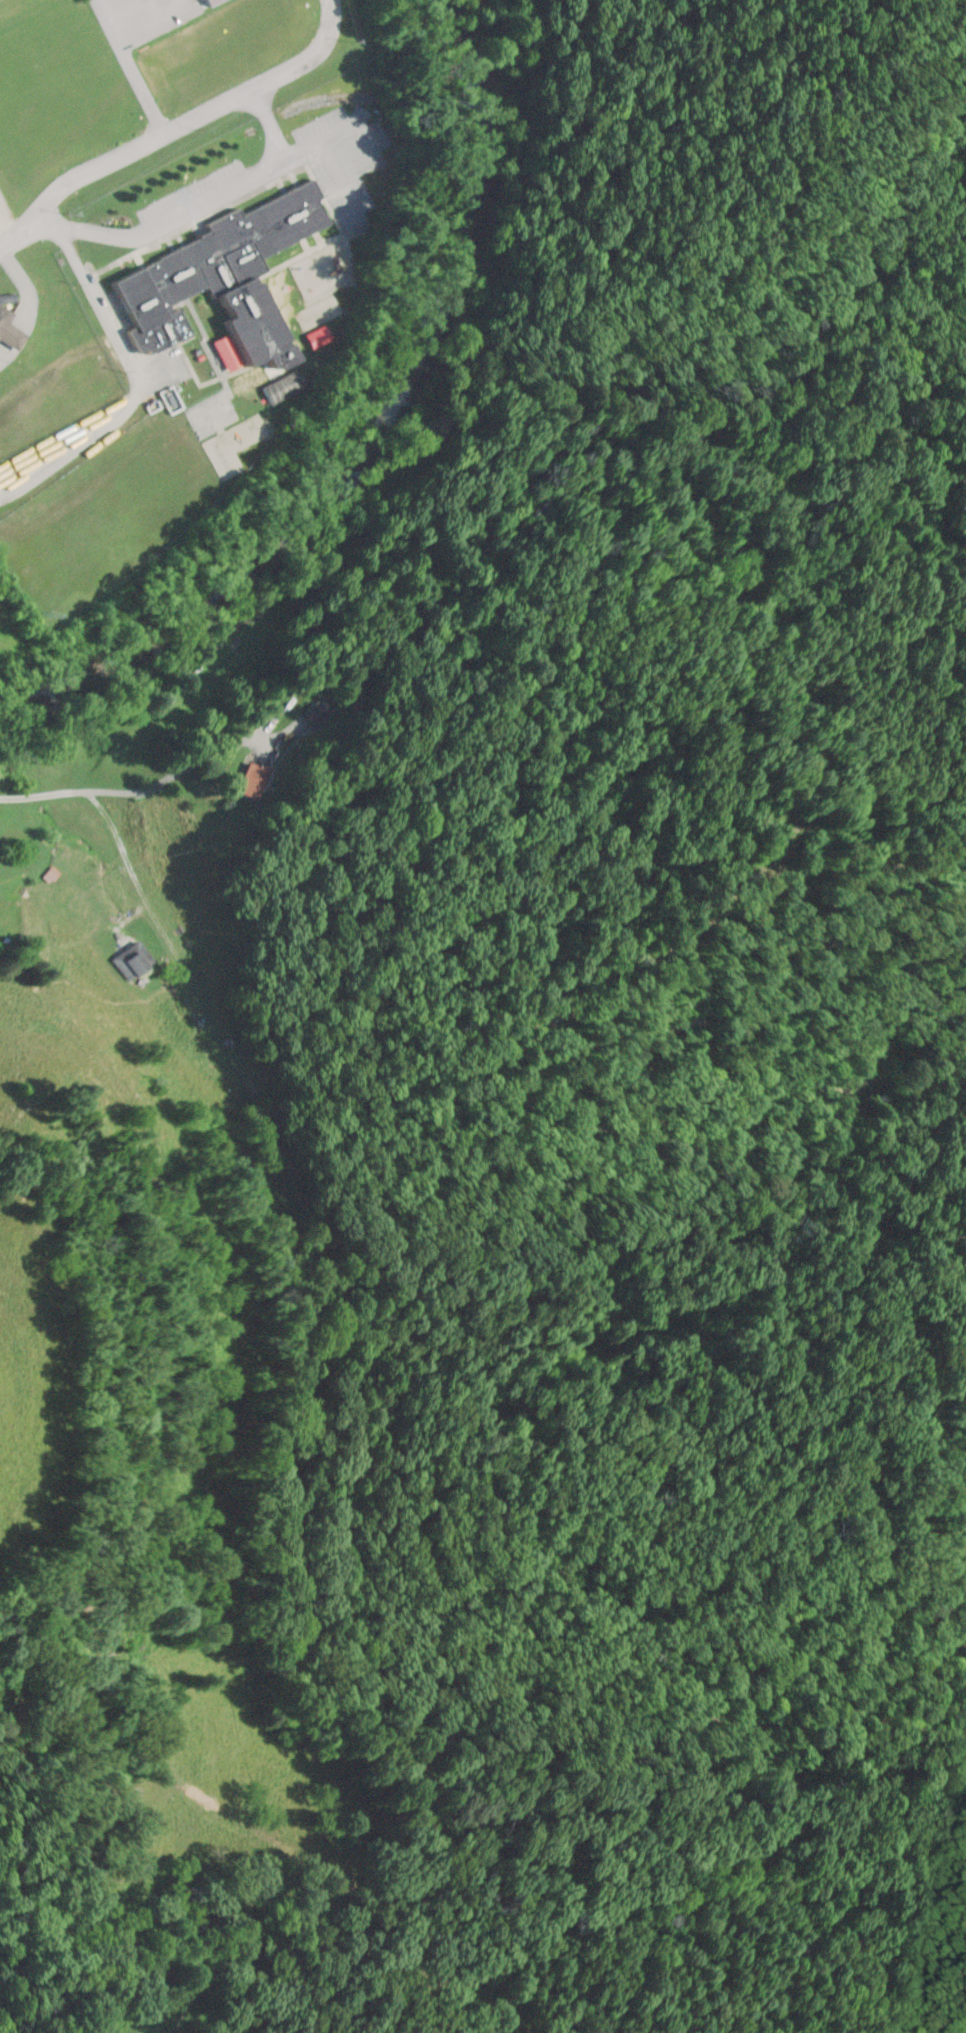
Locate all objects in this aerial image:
building: (205, 2)
building: (214, 2)
road: (131, 65)
road: (175, 125)
road: (202, 205)
building: (217, 282)
building: (8, 331)
road: (132, 374)
building: (282, 387)
river: (389, 446)
road: (136, 791)
building: (52, 874)

